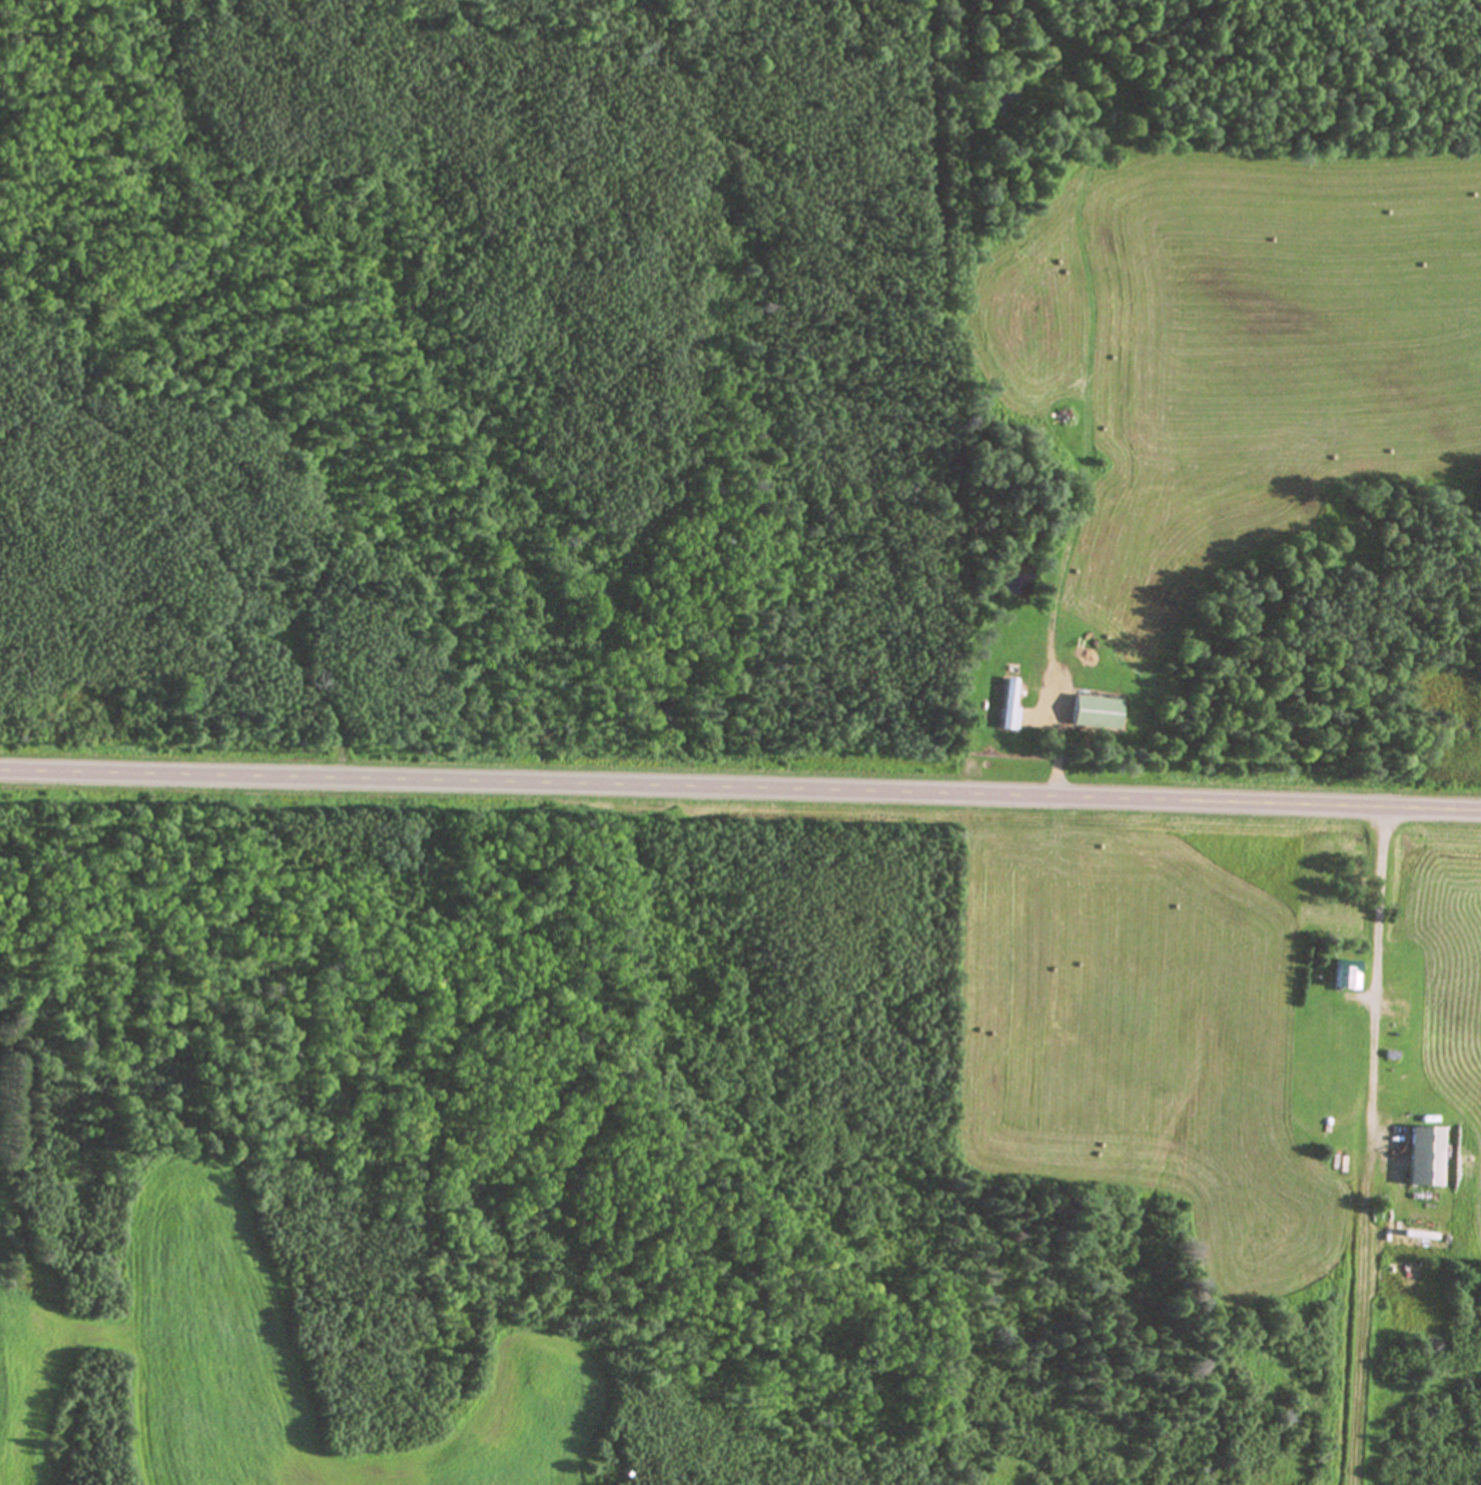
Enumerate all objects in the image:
building: (1006, 703)
building: (1093, 711)
road: (1053, 744)
road: (740, 788)
building: (1343, 973)
road: (1372, 990)
building: (1423, 1155)

